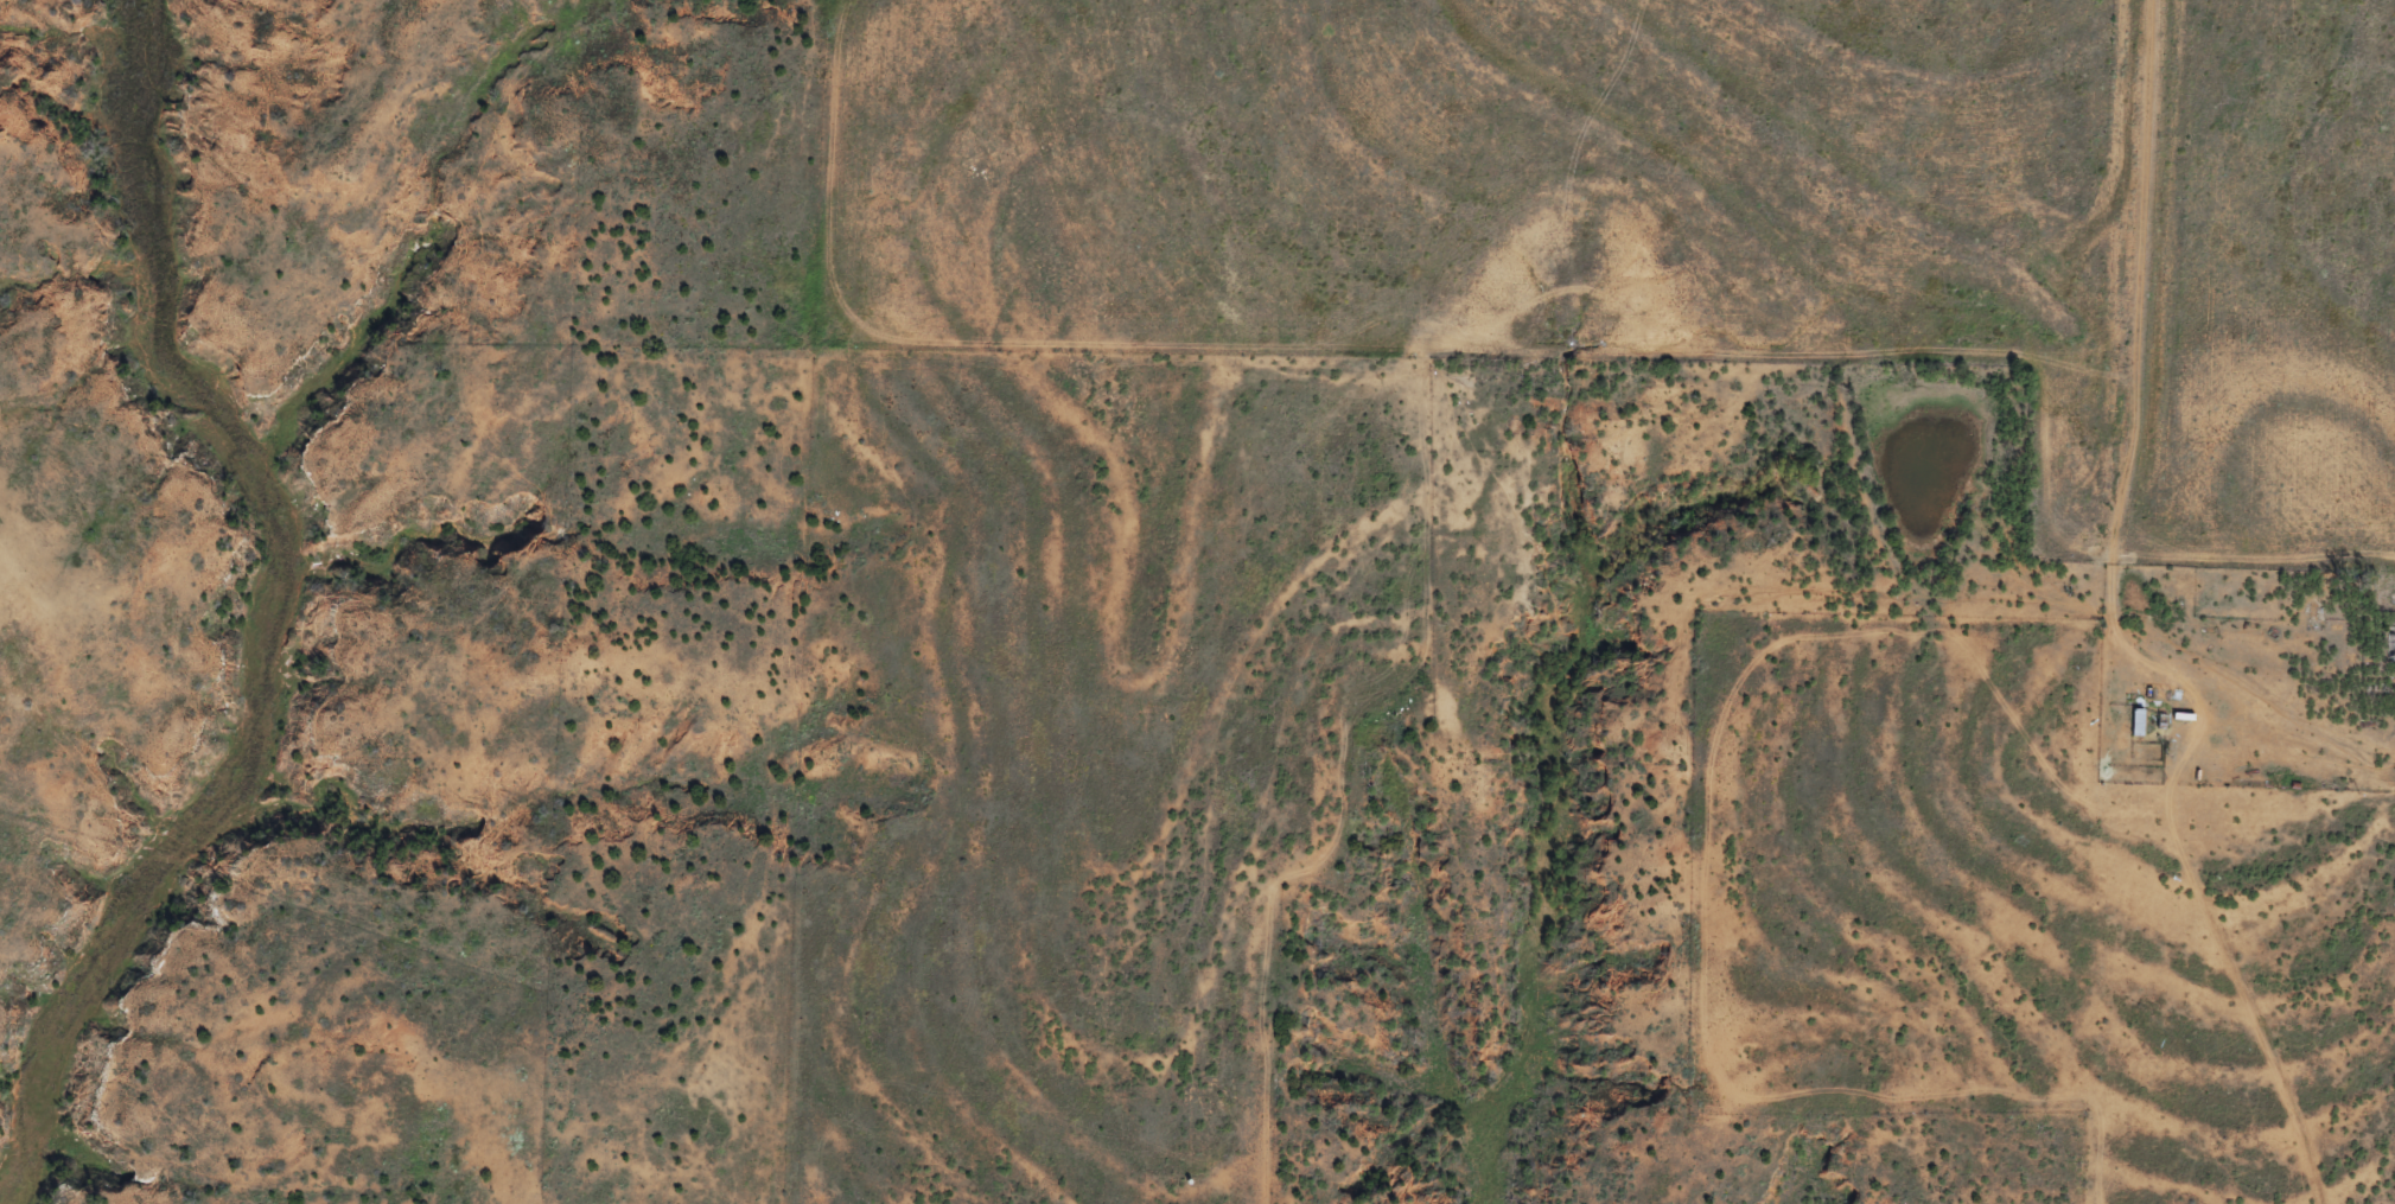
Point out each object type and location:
road: (2117, 466)
building: (2391, 641)

